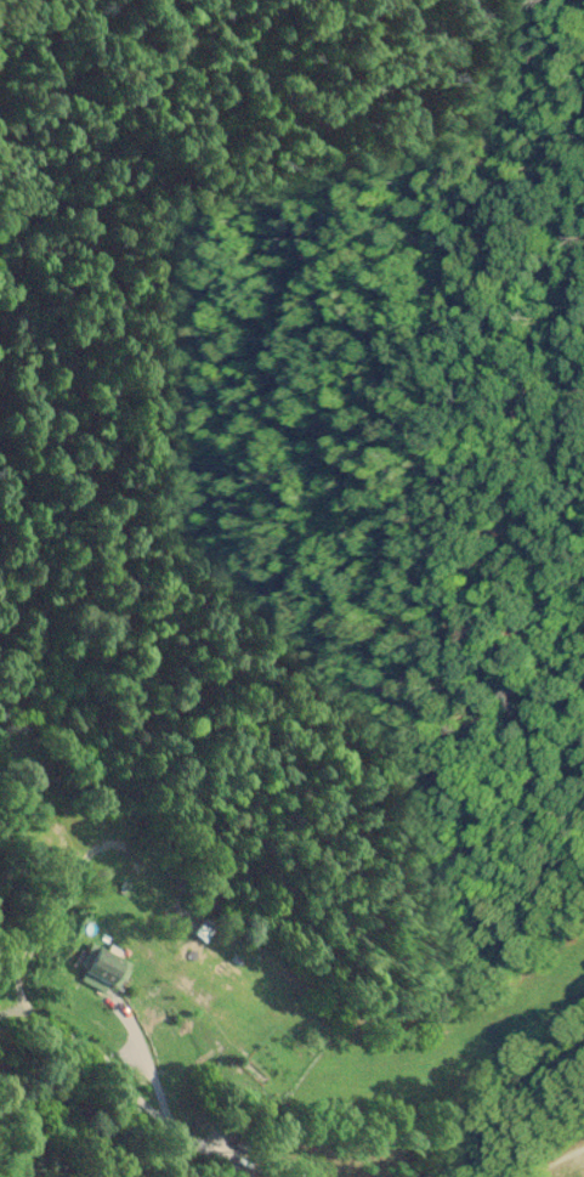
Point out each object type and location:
building: (197, 923)
building: (102, 966)

